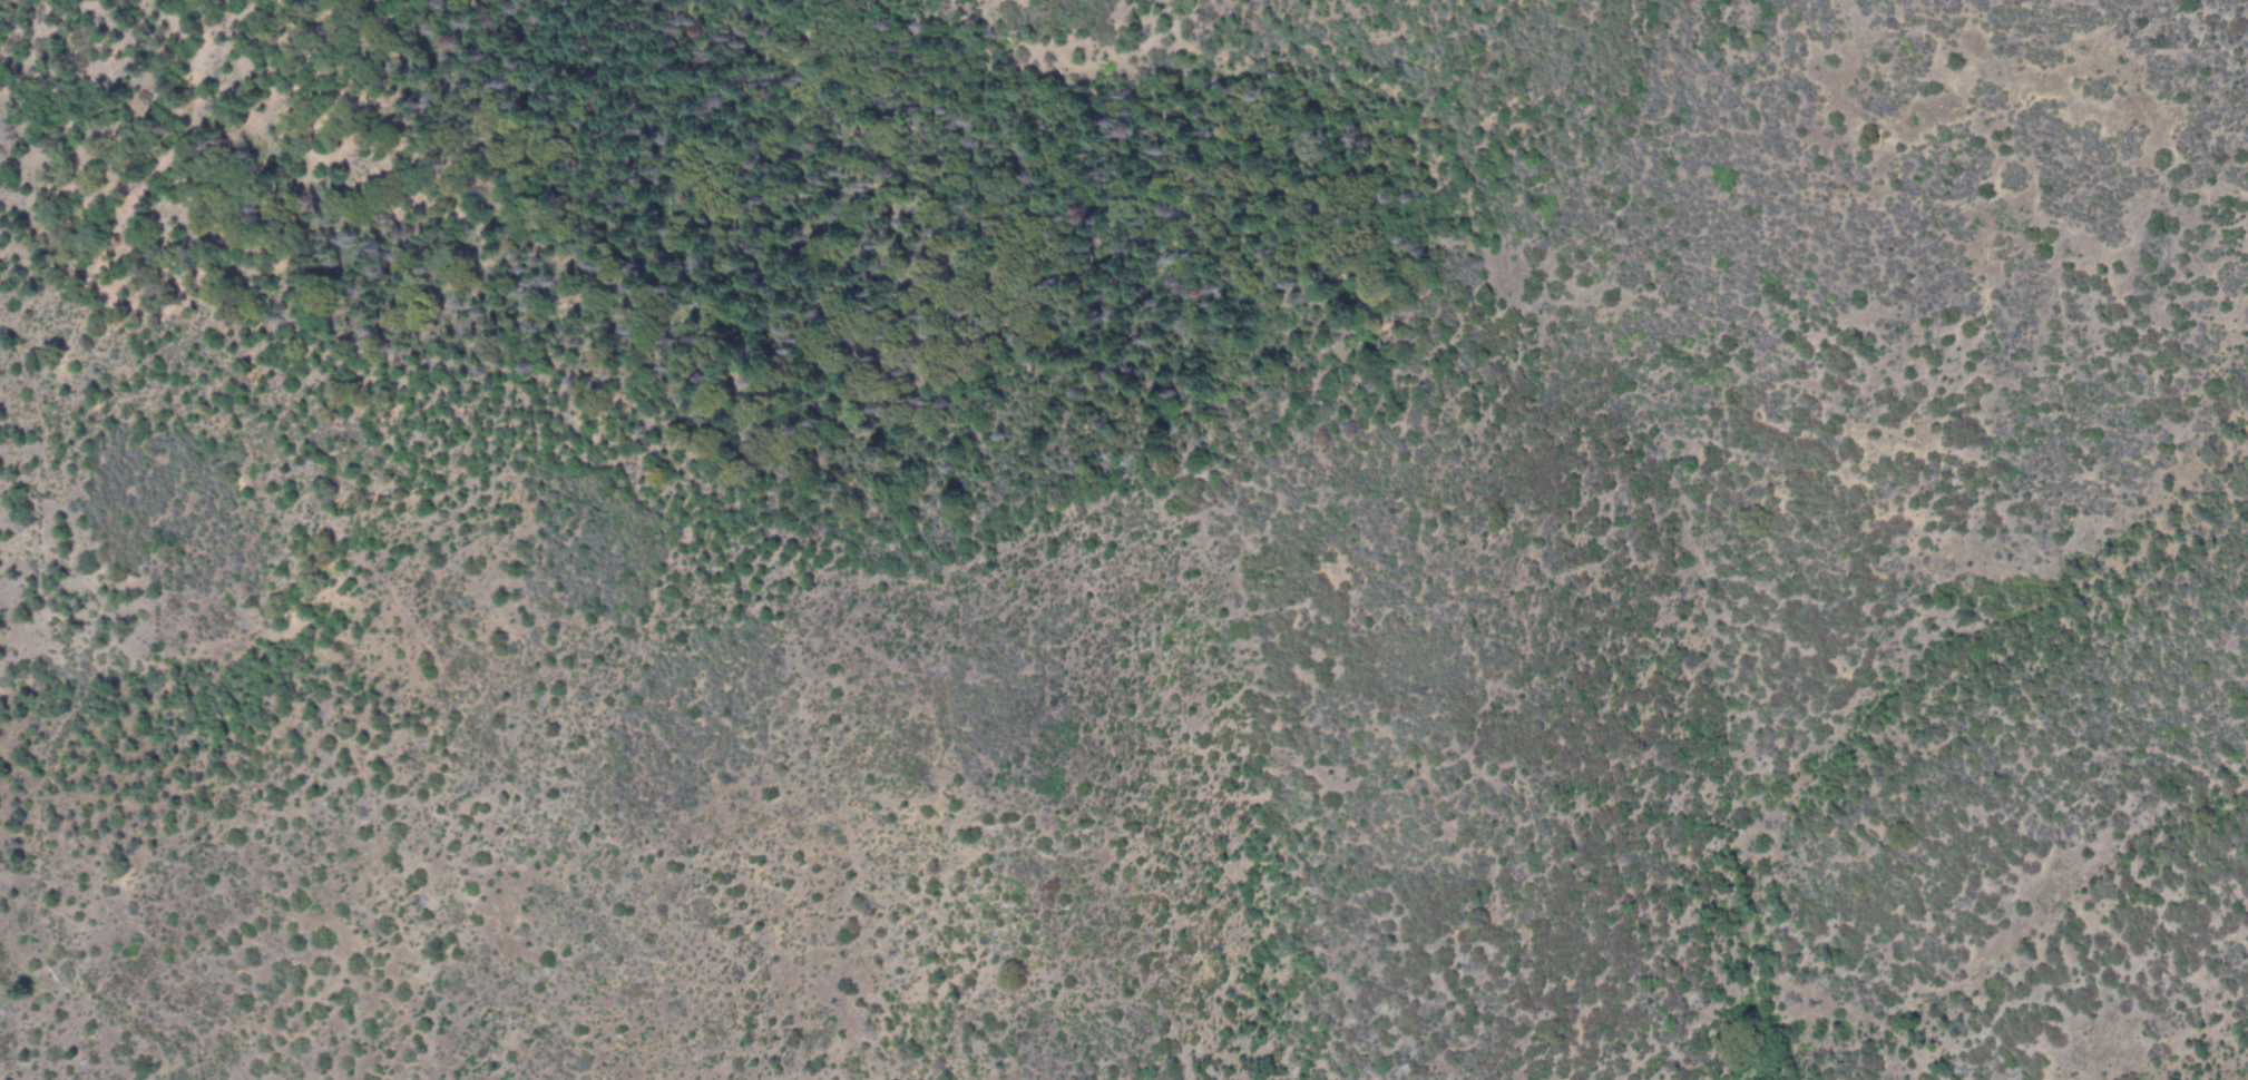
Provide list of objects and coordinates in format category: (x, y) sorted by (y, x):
road: (512, 0)
road: (33, 520)

